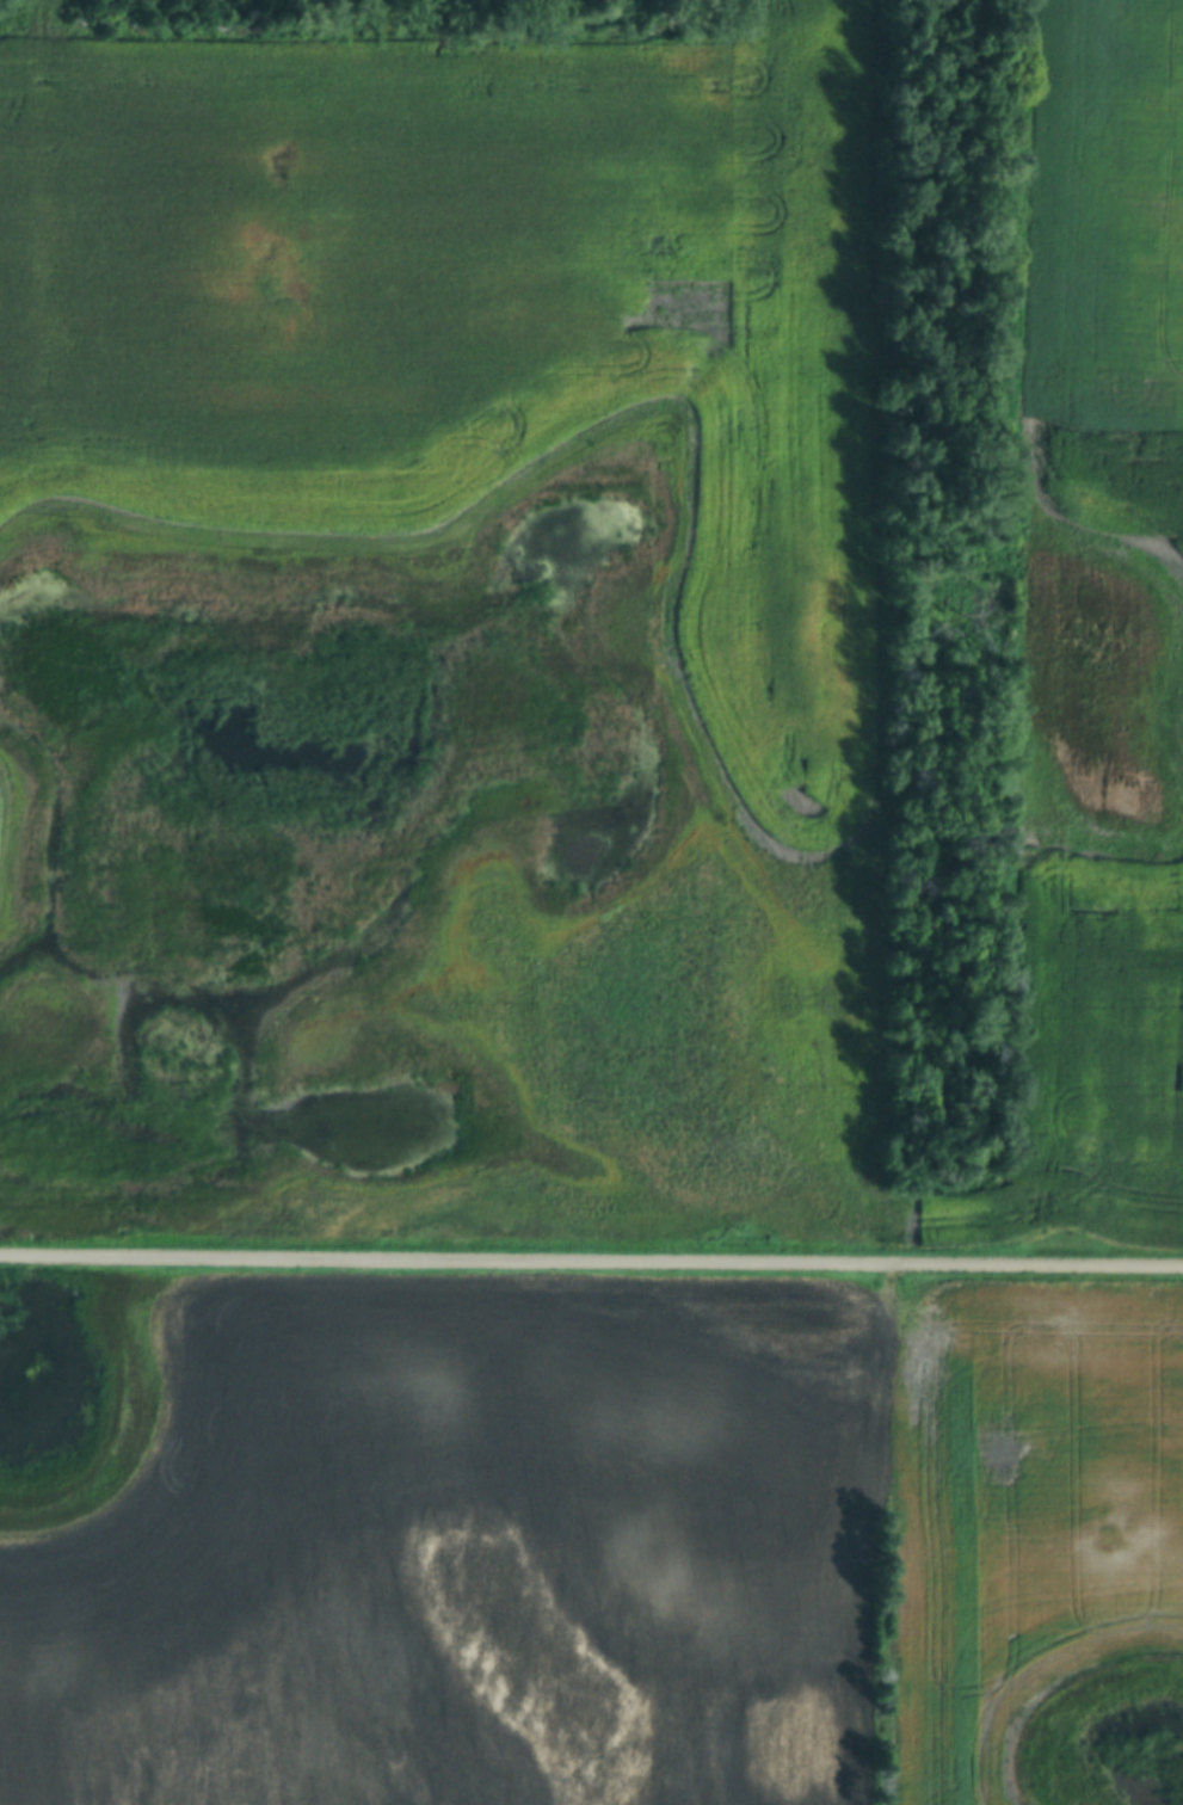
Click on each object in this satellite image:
road: (591, 1265)

